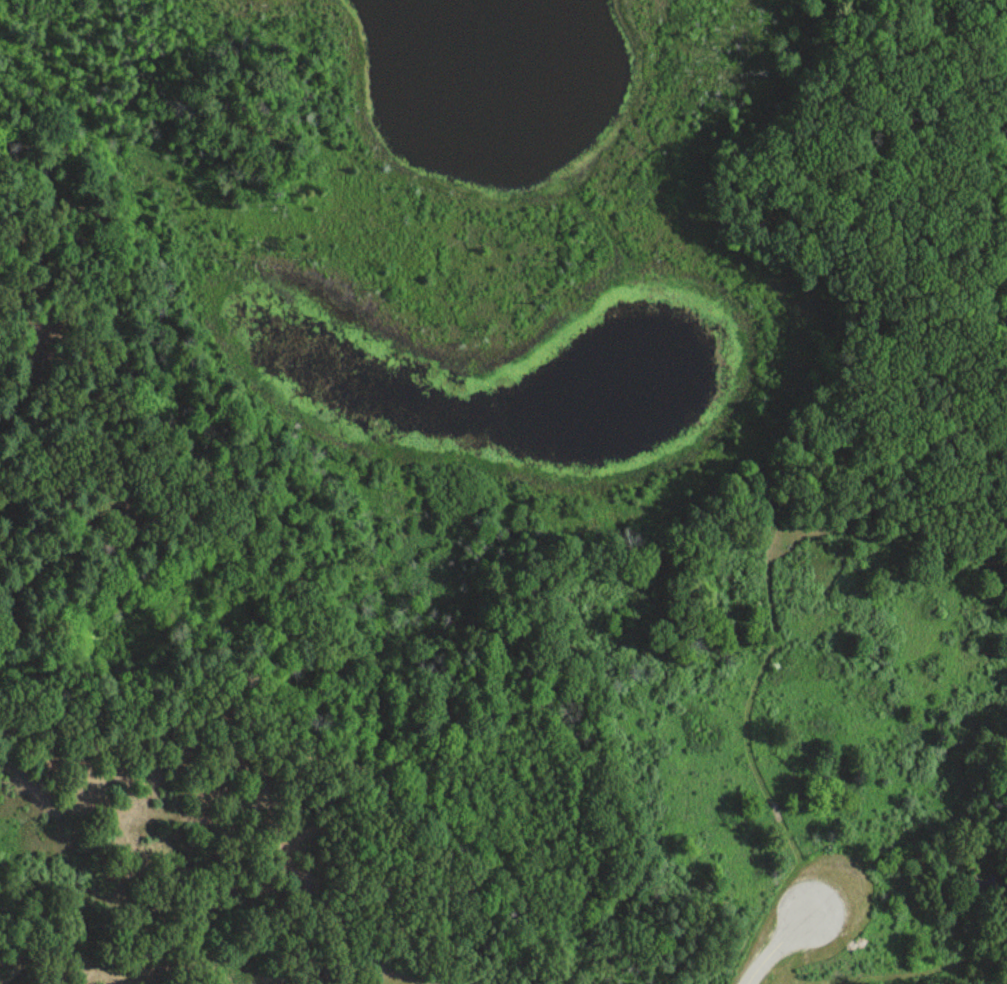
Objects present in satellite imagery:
road: (766, 590)
road: (326, 906)
road: (776, 948)
road: (902, 966)
road: (722, 970)

